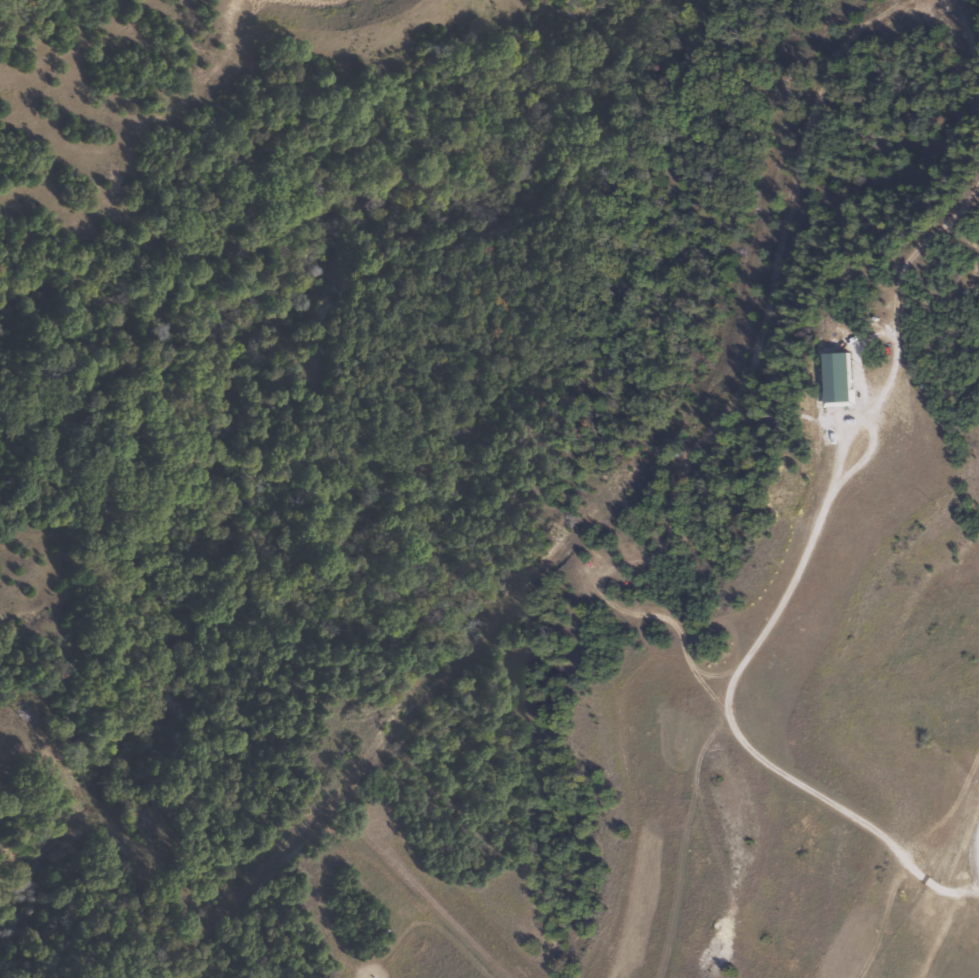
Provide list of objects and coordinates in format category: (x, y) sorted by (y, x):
road: (735, 740)
road: (973, 862)

